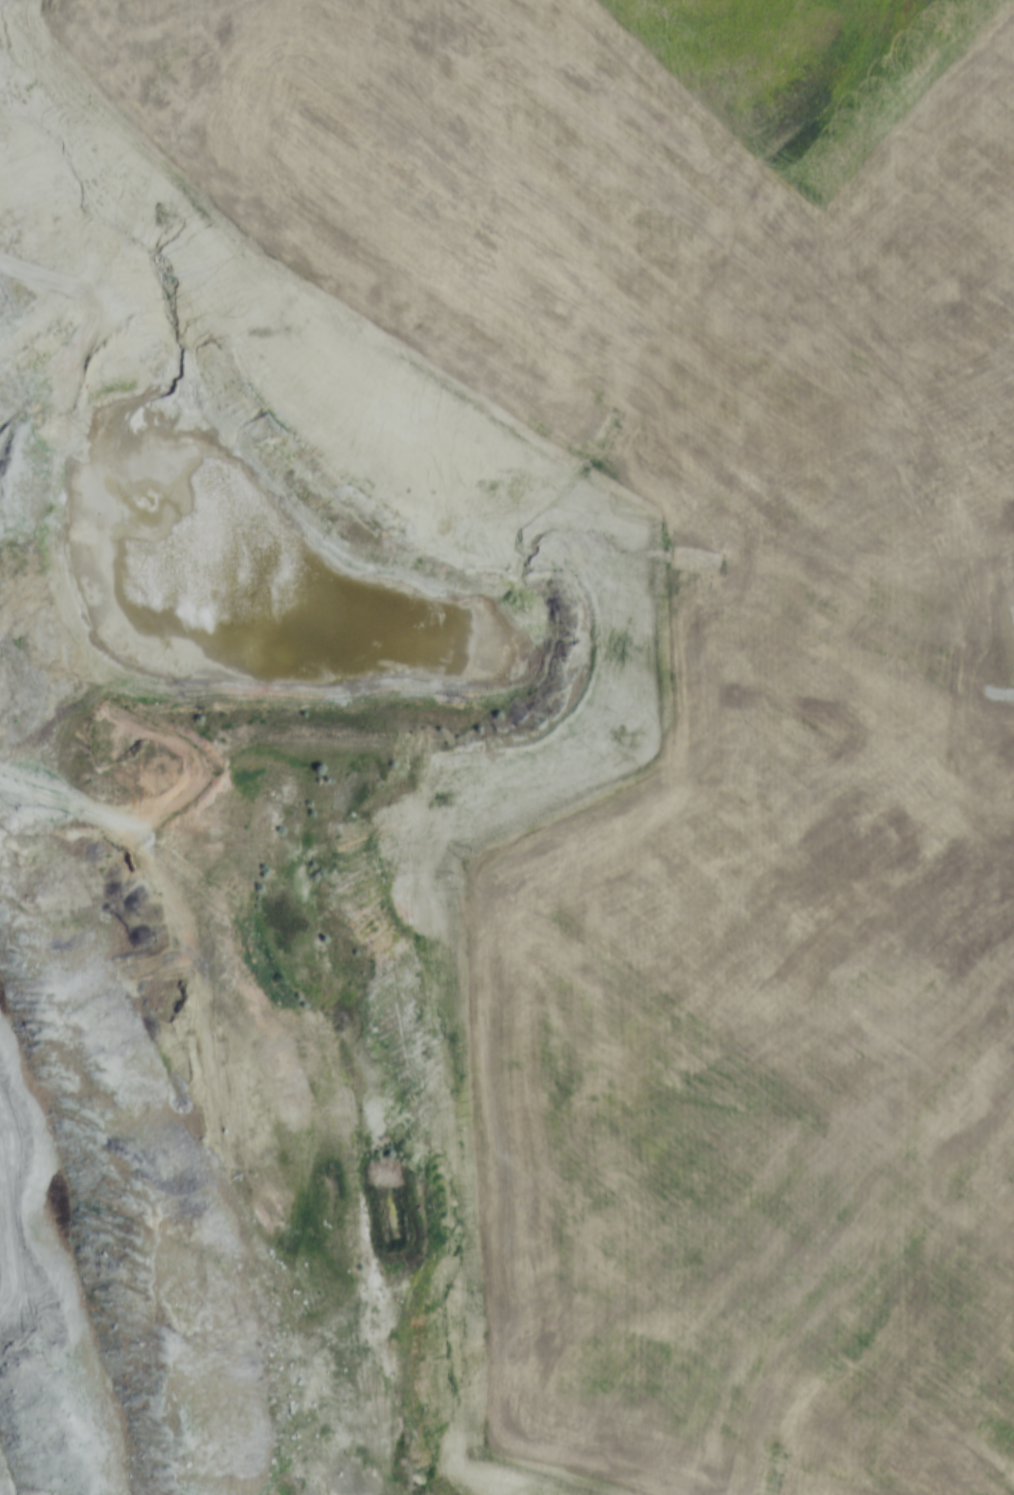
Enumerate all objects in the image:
road: (978, 1068)

